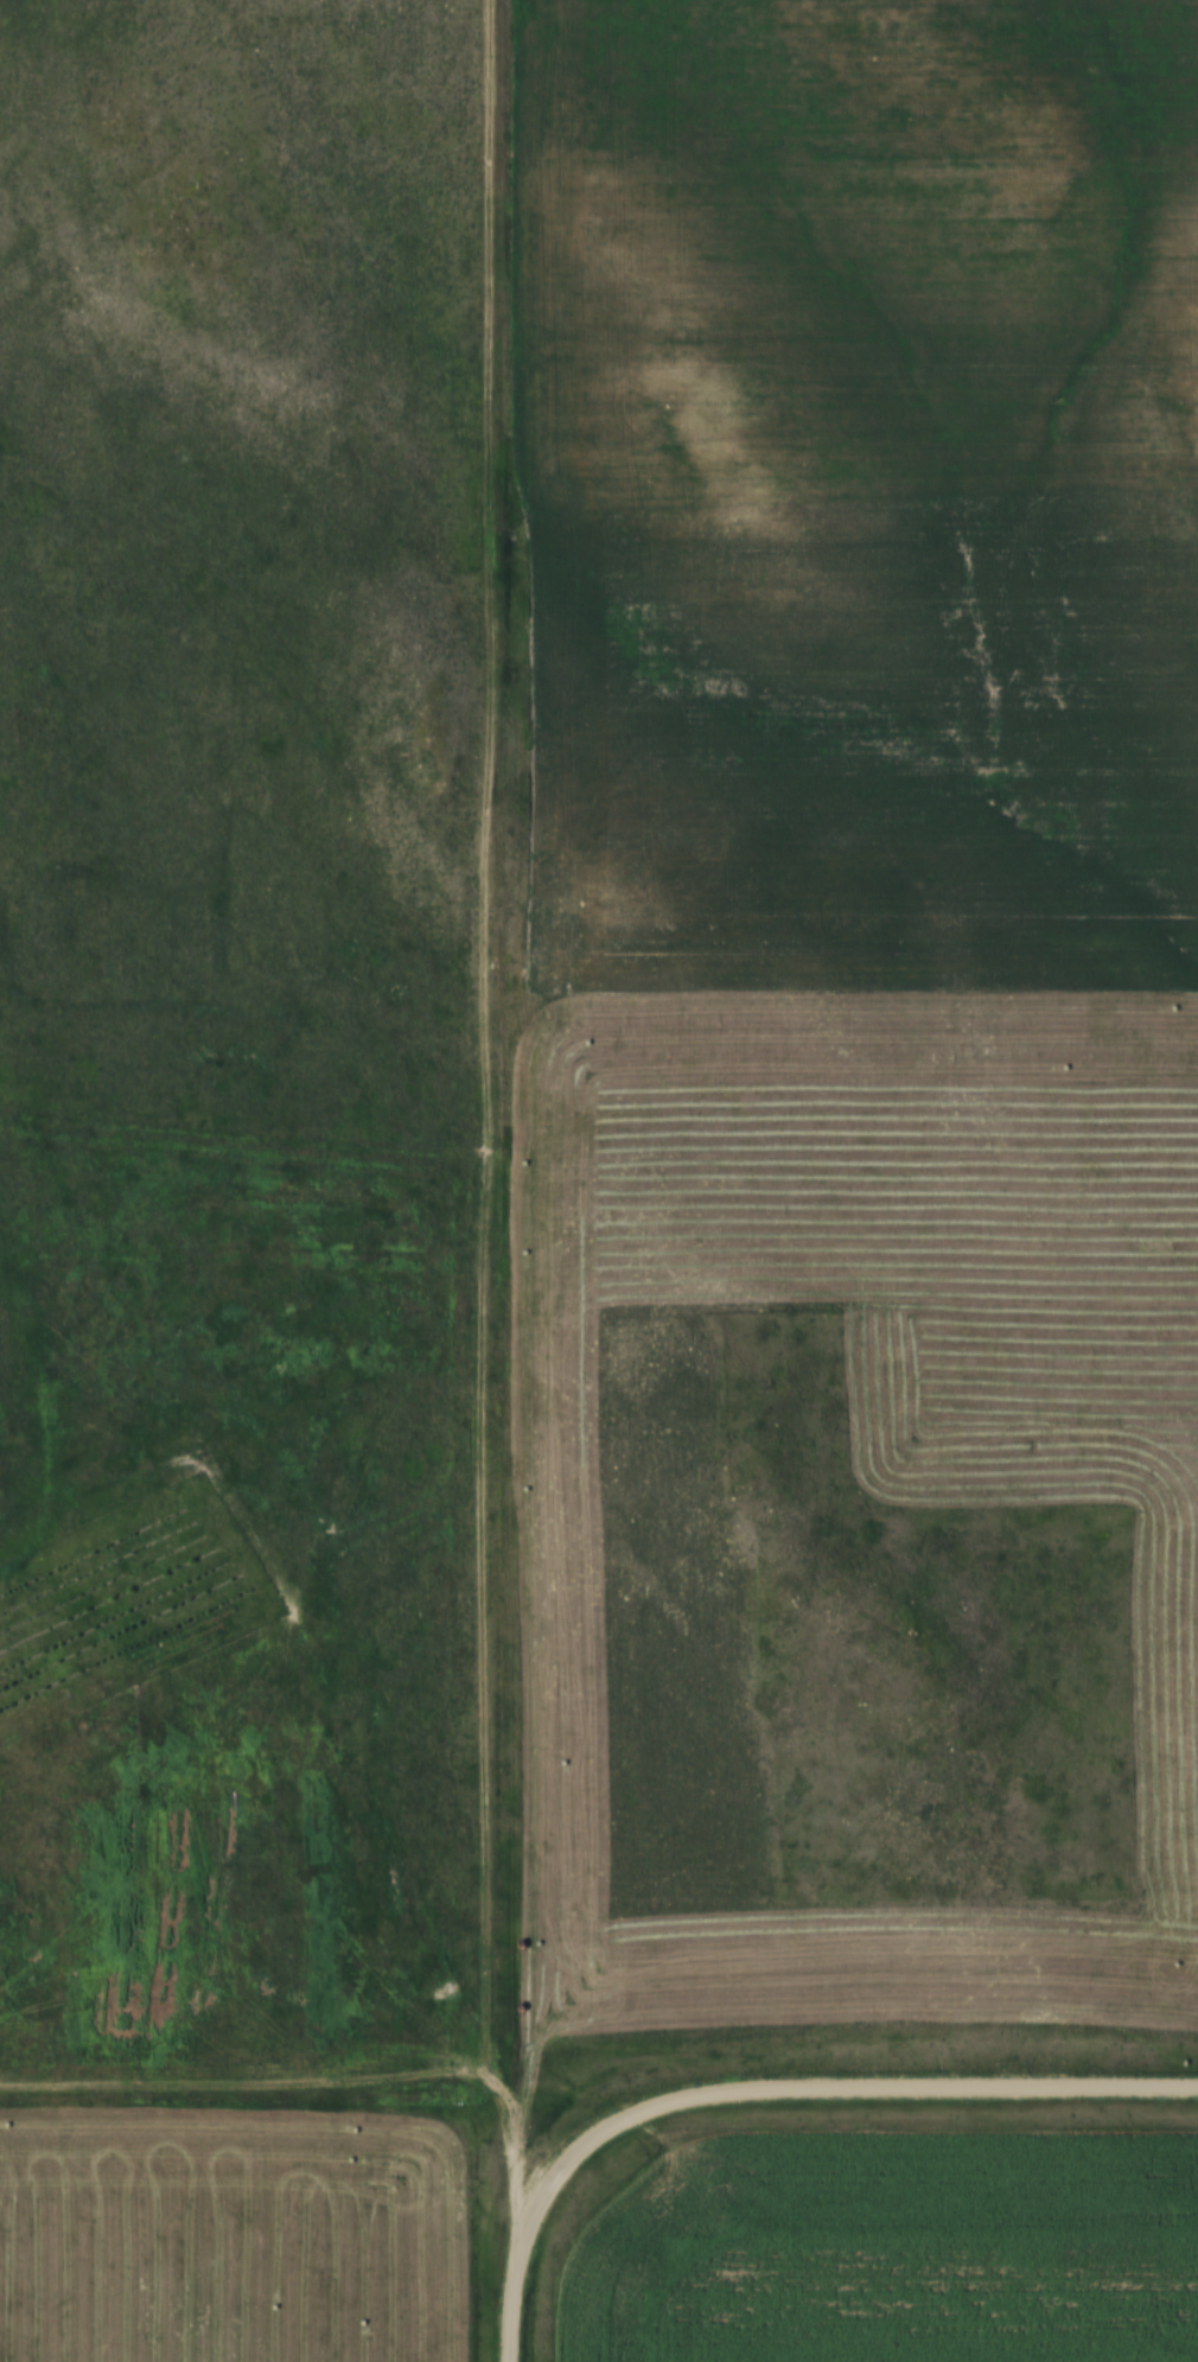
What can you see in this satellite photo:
road: (390, 2092)
road: (766, 2092)

